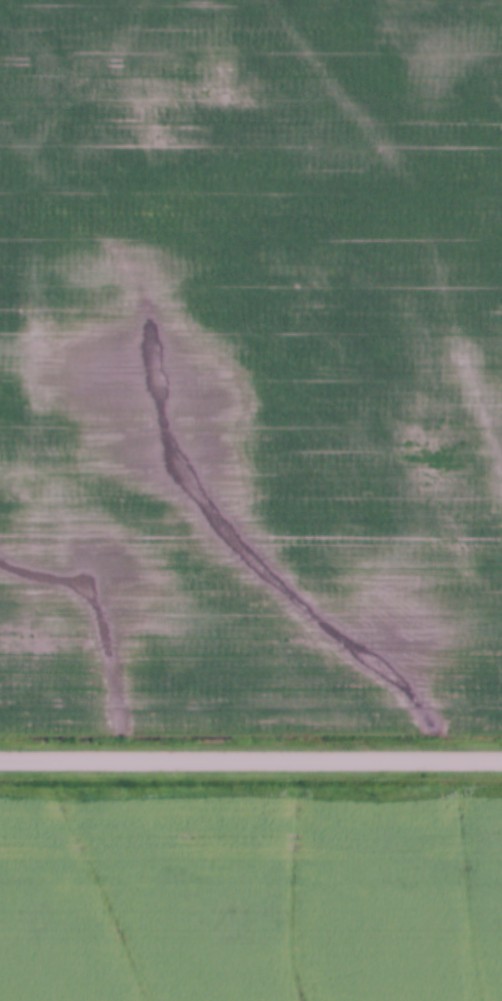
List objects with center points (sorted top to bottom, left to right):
road: (251, 676)
road: (251, 757)
crop: (250, 904)

